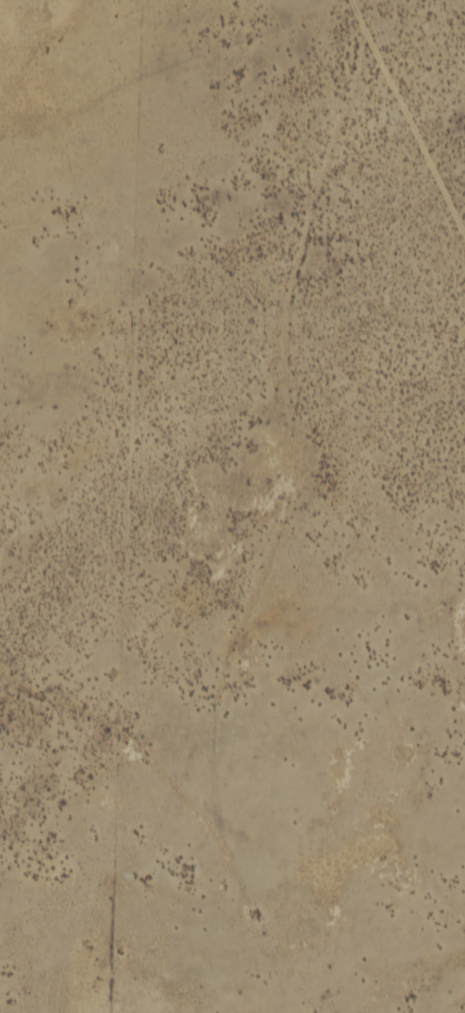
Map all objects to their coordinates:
road: (421, 132)
road: (268, 556)
road: (253, 939)

